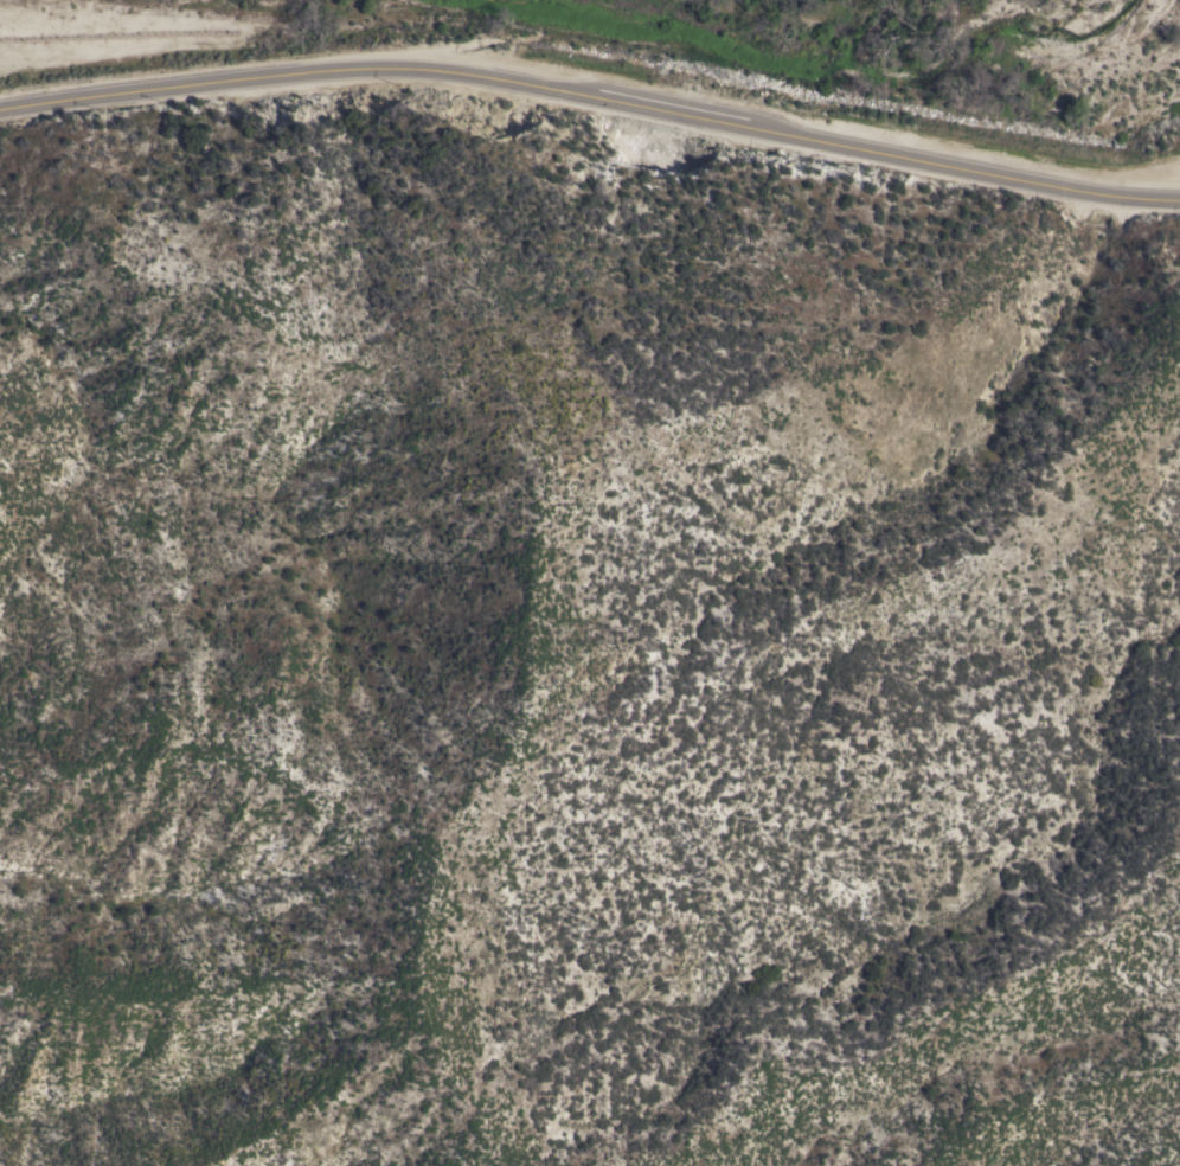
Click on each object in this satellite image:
road: (592, 96)

